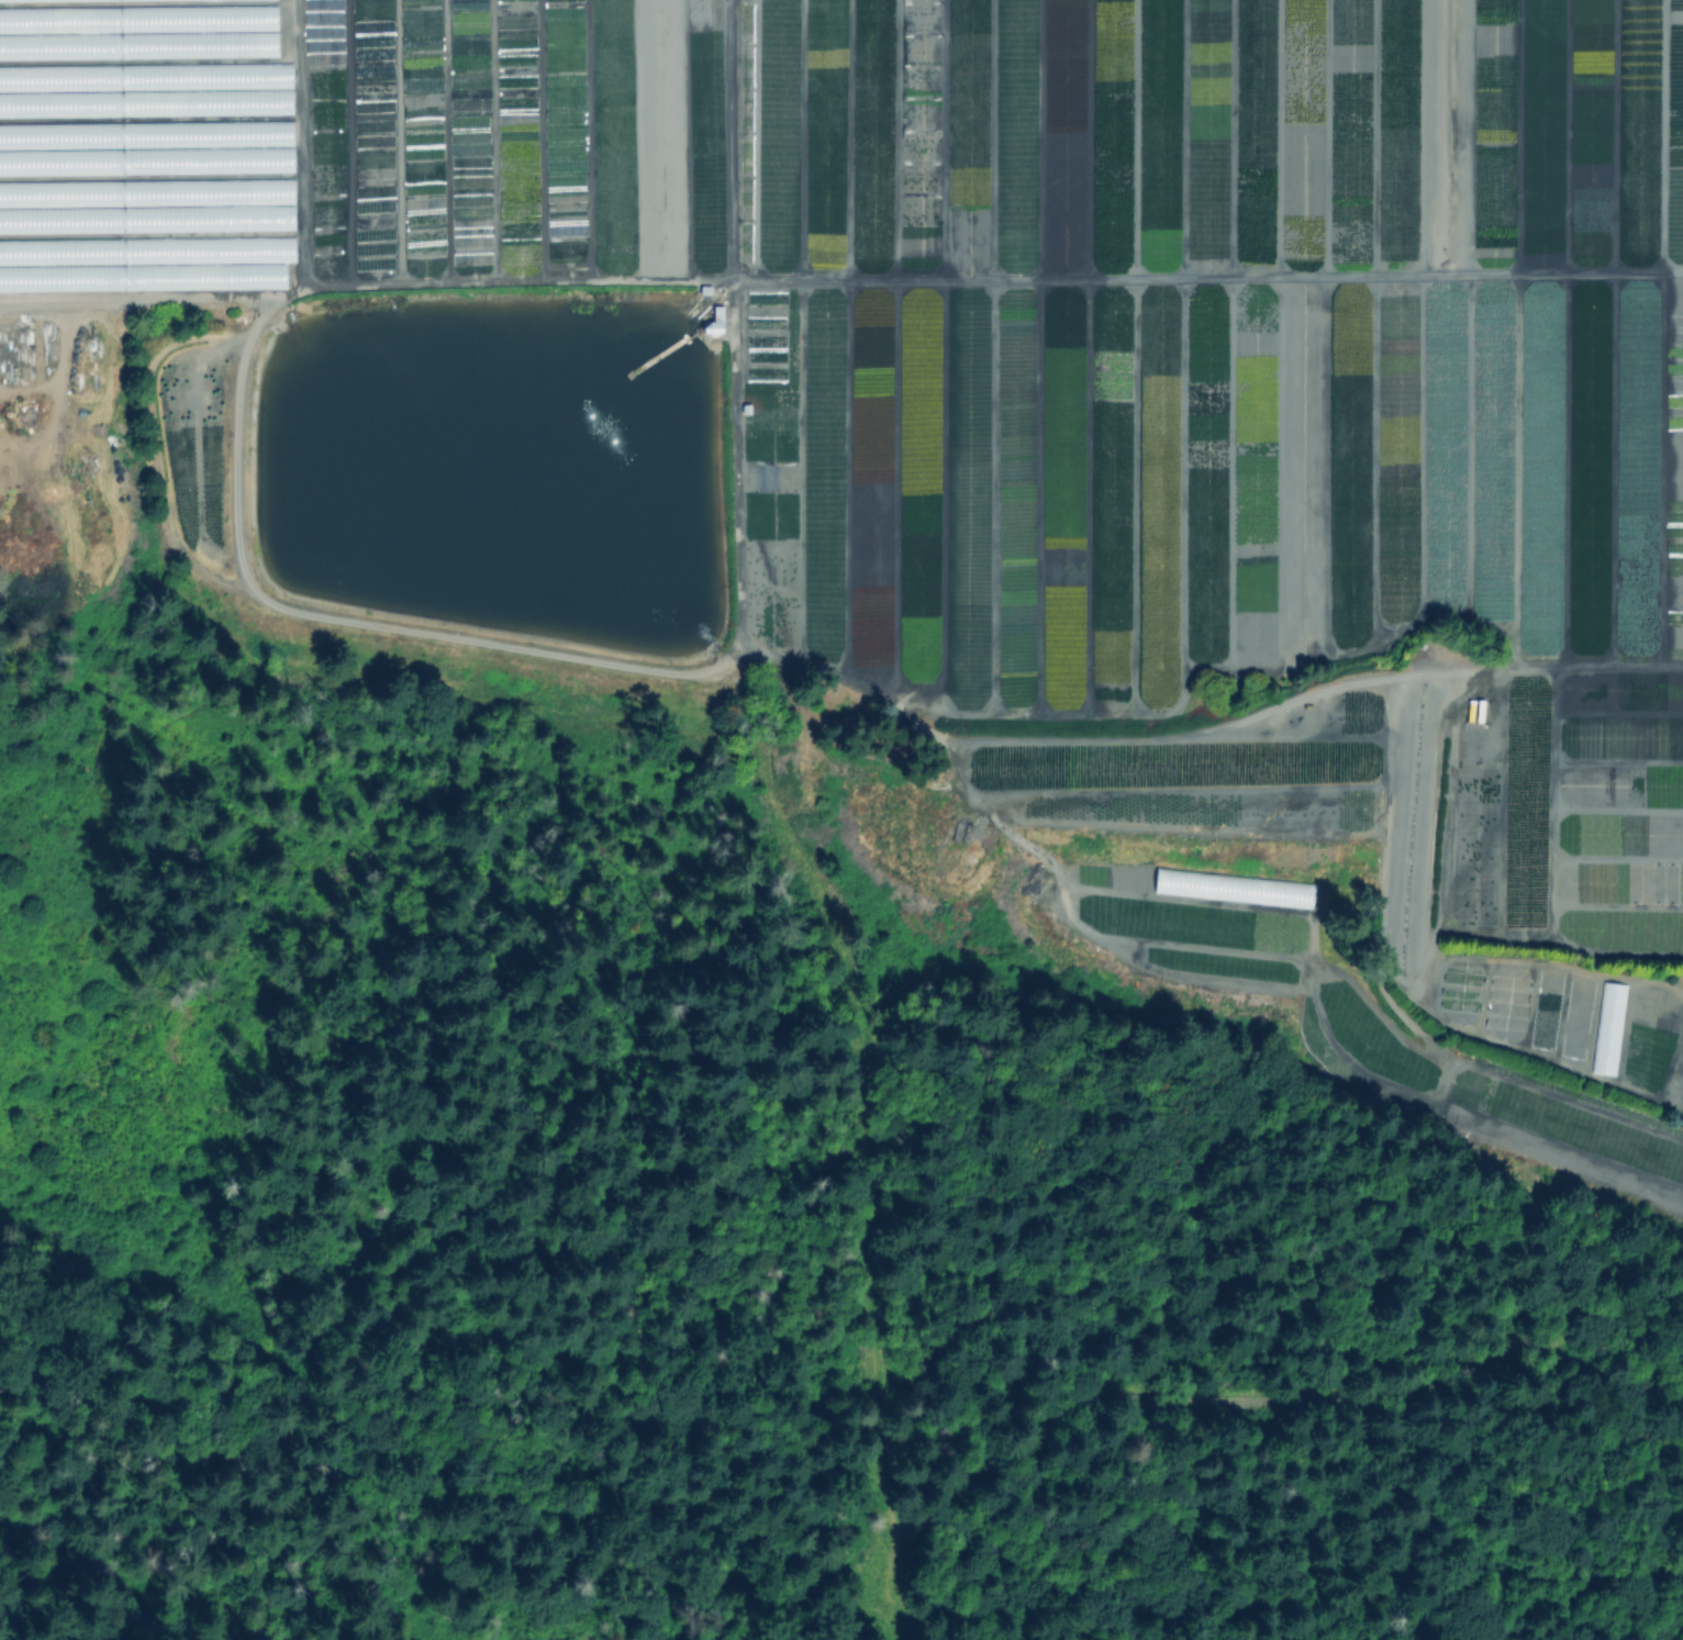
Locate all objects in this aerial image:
building: (13, 0)
building: (160, 26)
building: (33, 45)
building: (45, 77)
road: (728, 142)
building: (20, 192)
building: (24, 221)
building: (252, 259)
road: (133, 300)
building: (717, 322)
road: (736, 636)
building: (1540, 1038)
road: (660, 1466)

